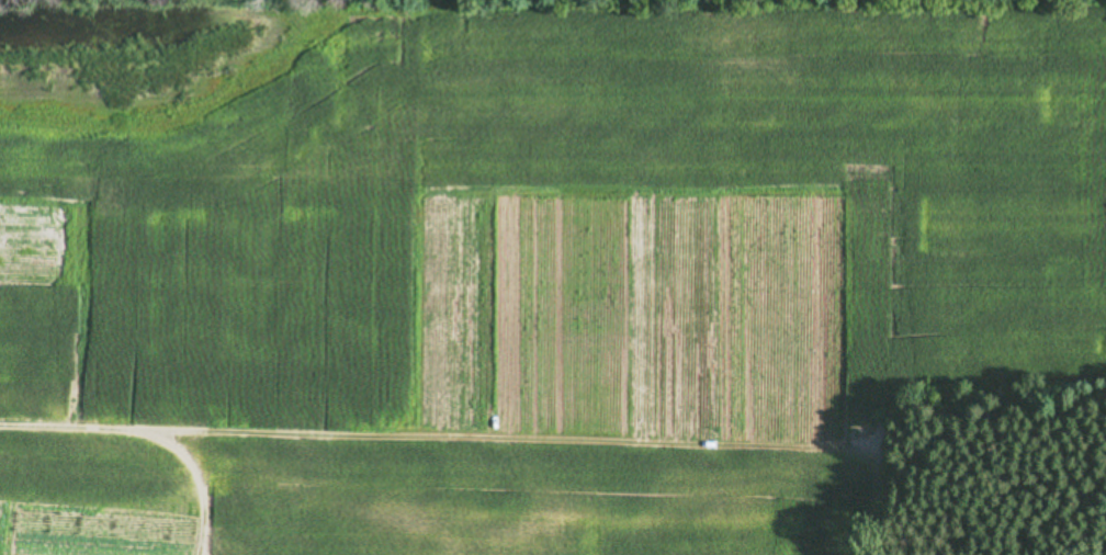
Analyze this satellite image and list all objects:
crop: (527, 267)

